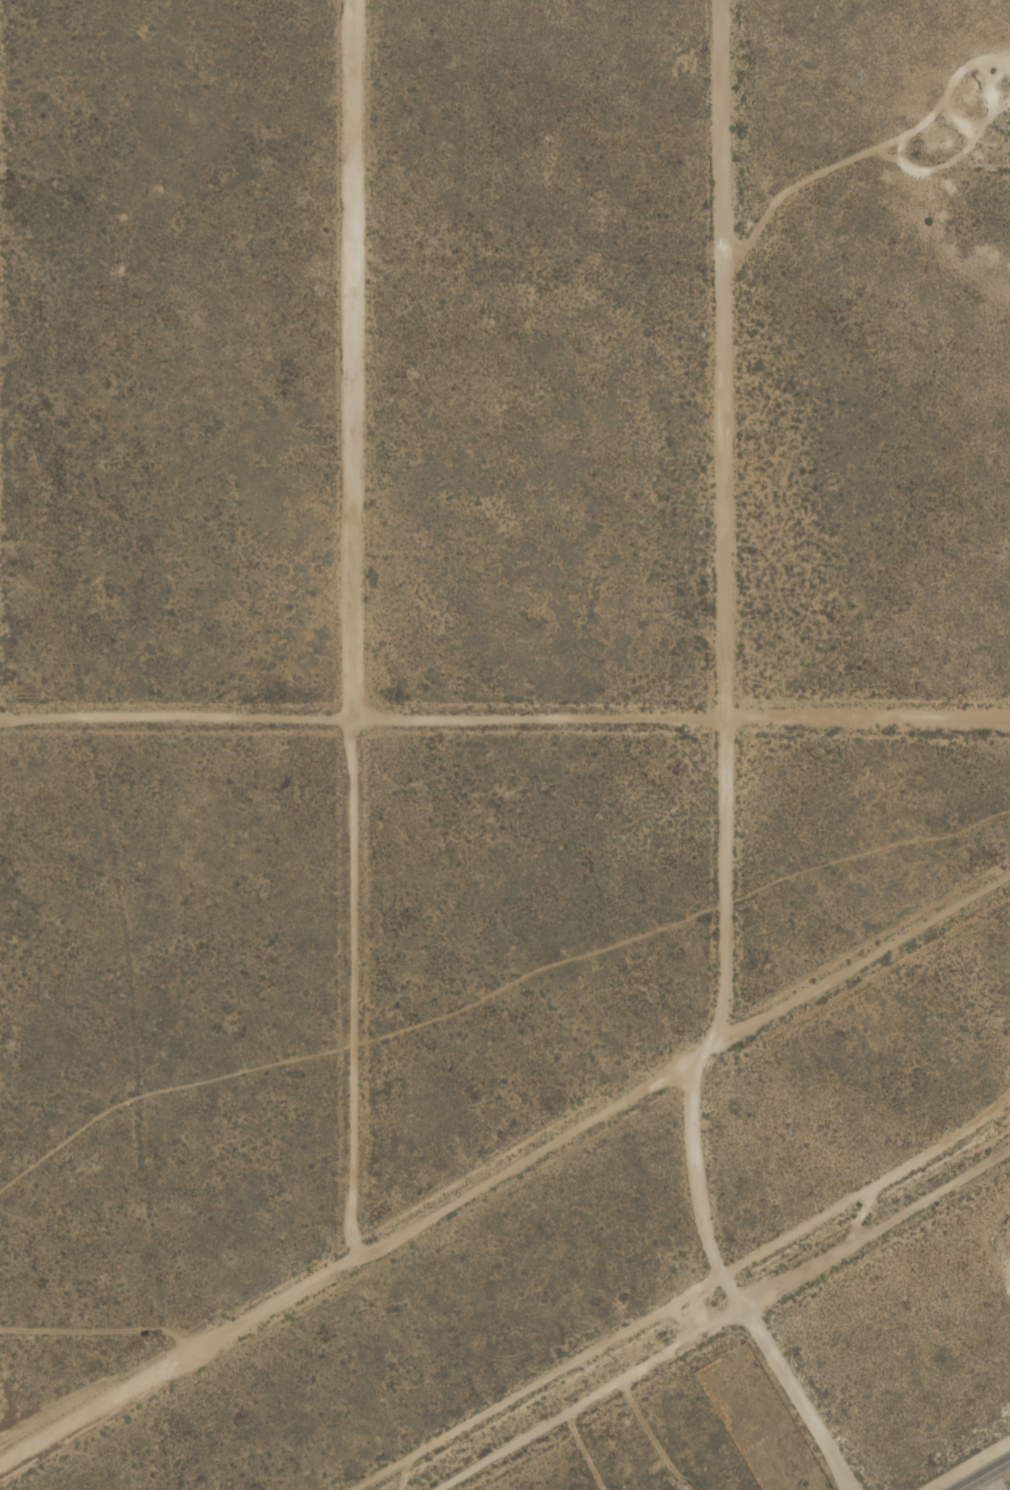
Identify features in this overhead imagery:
road: (723, 358)
road: (351, 359)
road: (504, 718)
road: (724, 878)
road: (352, 988)
road: (503, 1169)
road: (726, 1281)
road: (720, 1319)
road: (984, 1475)

